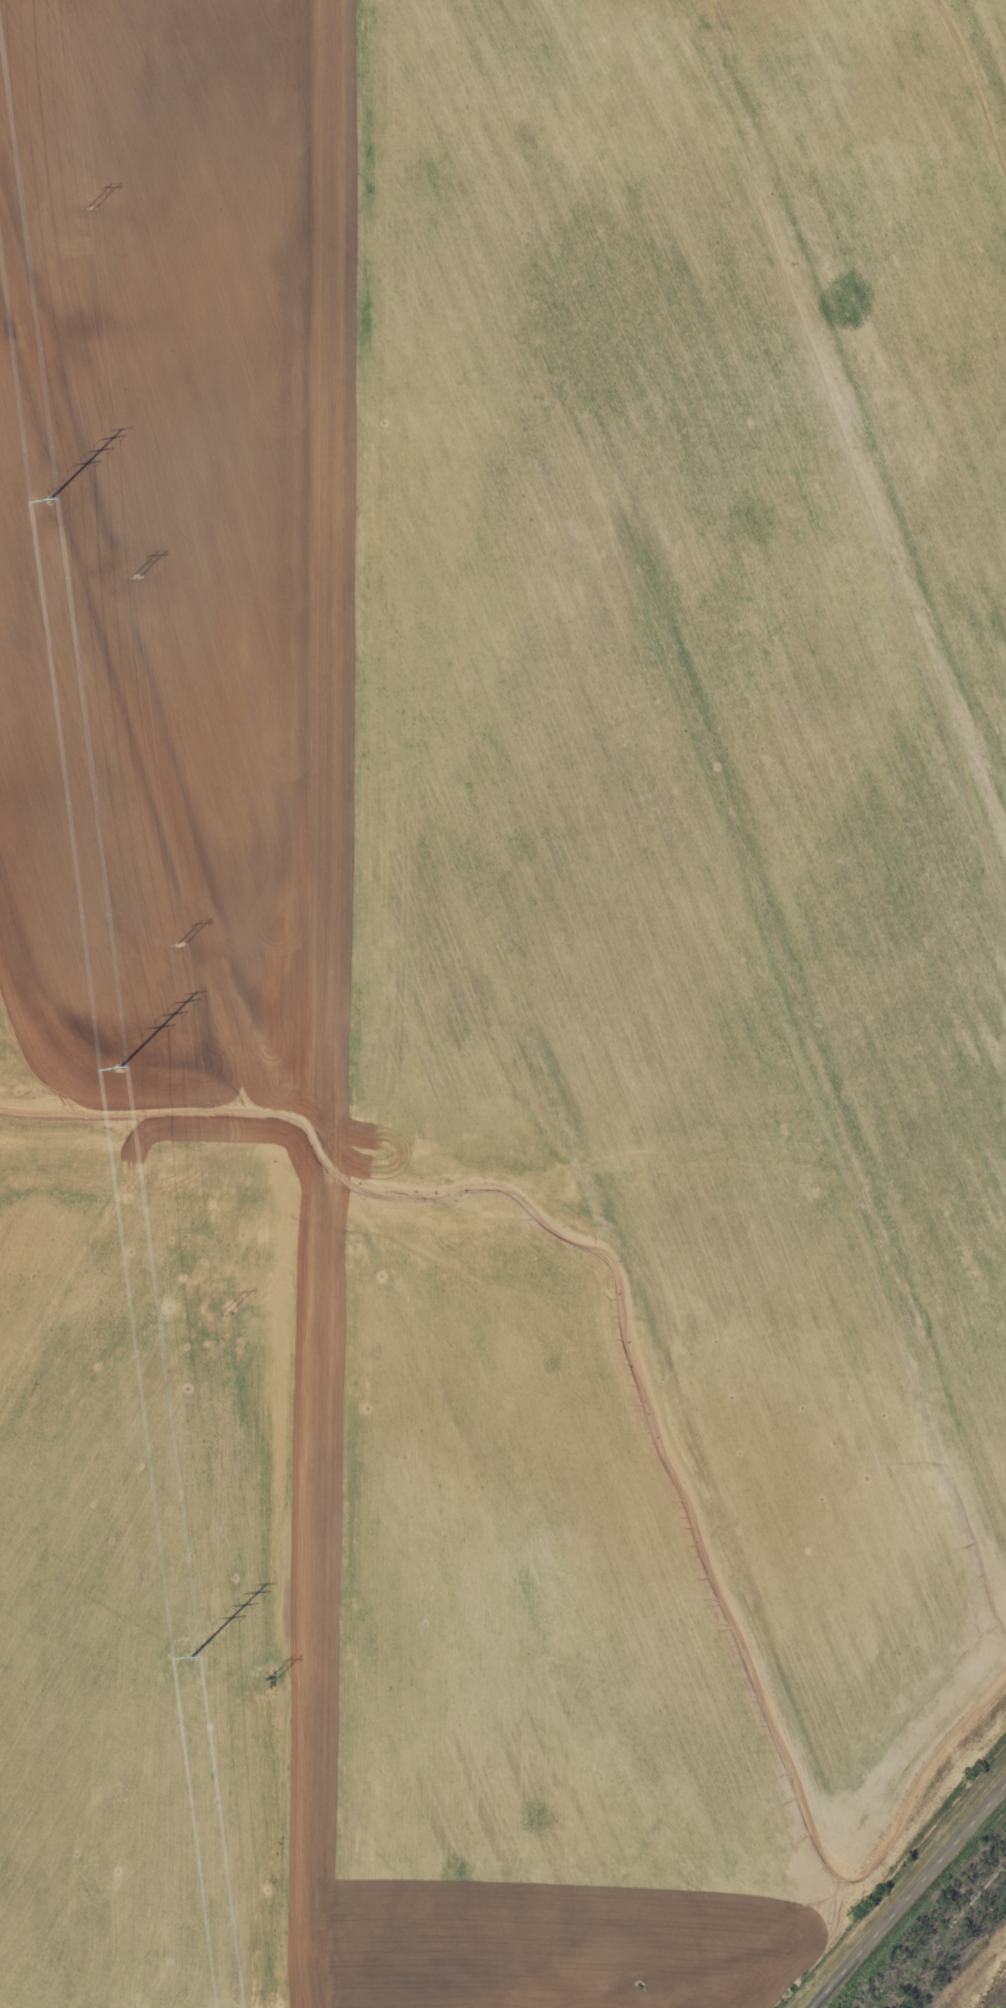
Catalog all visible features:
power tower: (90, 207)
power tower: (49, 499)
power tower: (136, 574)
power tower: (182, 944)
power tower: (119, 1067)
power tower: (226, 1312)
power tower: (191, 1657)
power tower: (271, 1681)
road: (915, 1903)
railway: (940, 1932)

